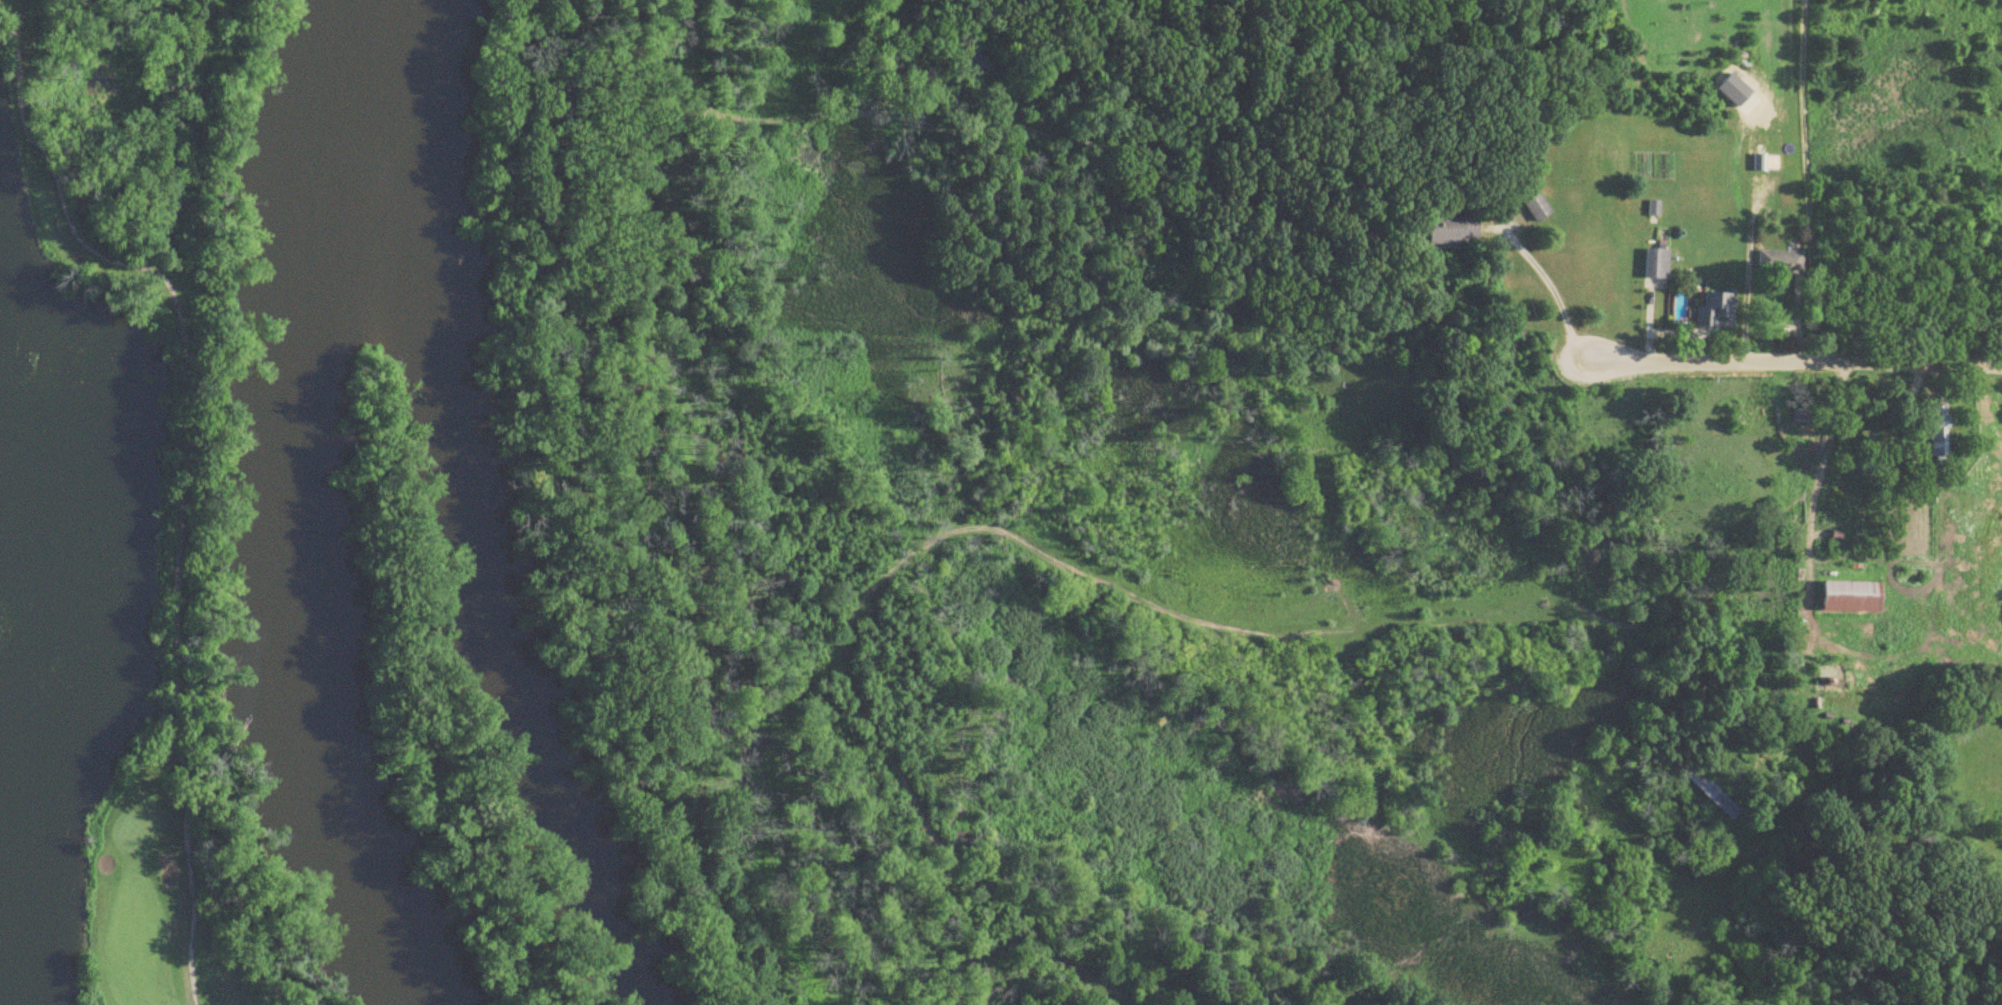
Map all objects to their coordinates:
building: (1767, 164)
road: (1808, 181)
building: (1538, 210)
building: (1453, 232)
building: (1781, 262)
building: (1657, 264)
road: (1550, 287)
building: (1716, 311)
road: (1793, 361)
building: (1939, 437)
building: (1909, 465)
river: (291, 506)
park: (121, 561)
building: (1851, 598)
road: (1151, 603)
building: (1821, 676)
building: (1711, 793)

